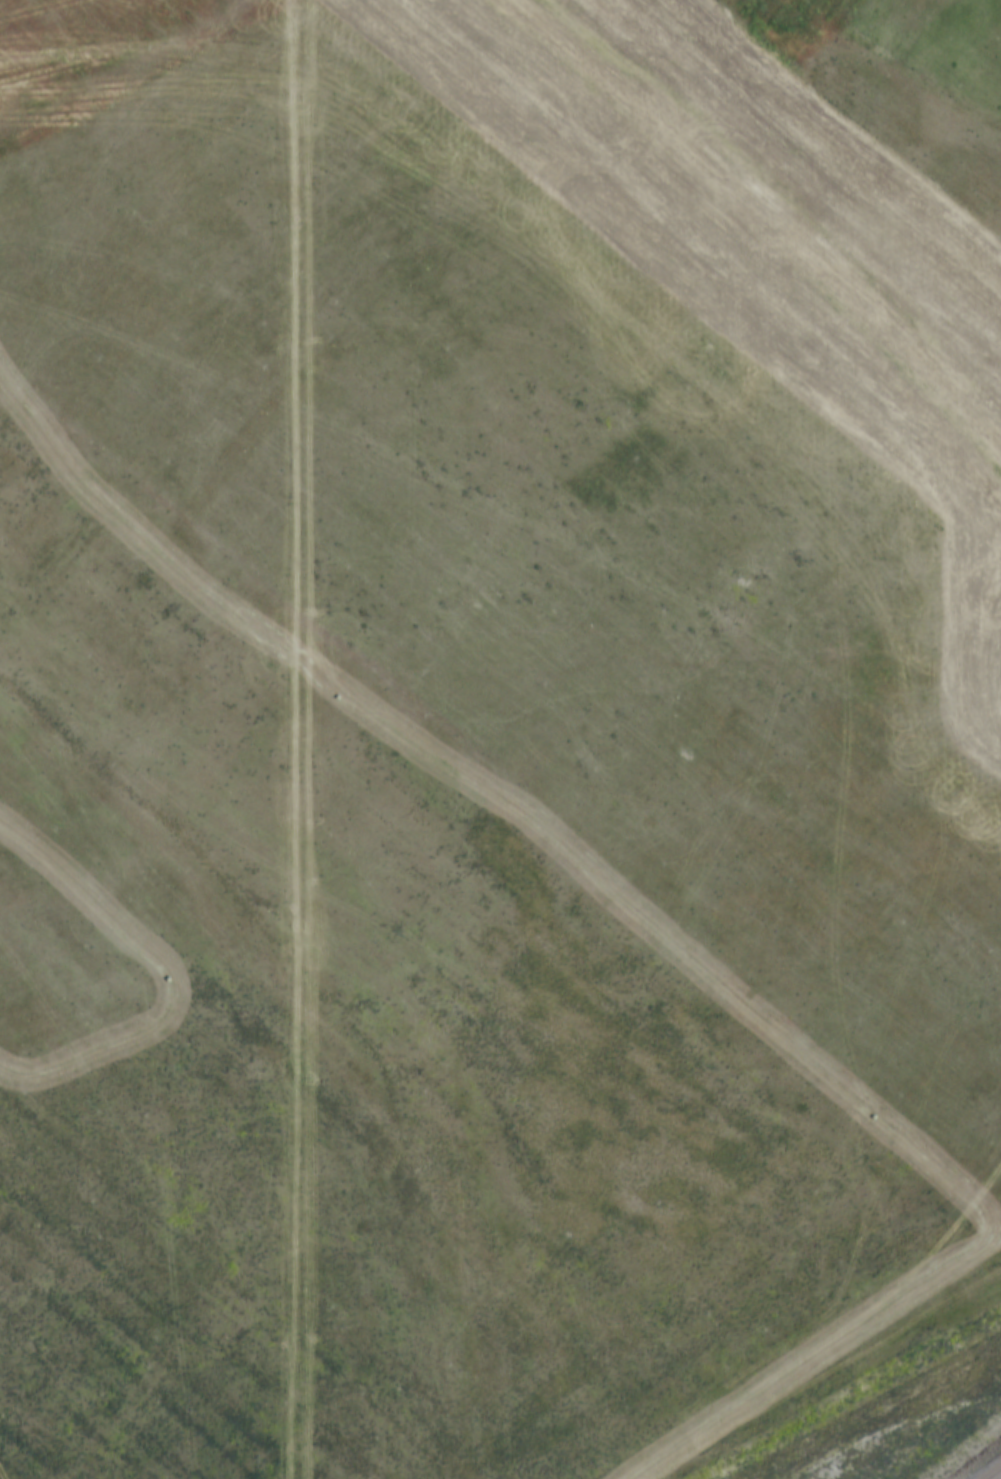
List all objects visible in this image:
quarry: (518, 711)

